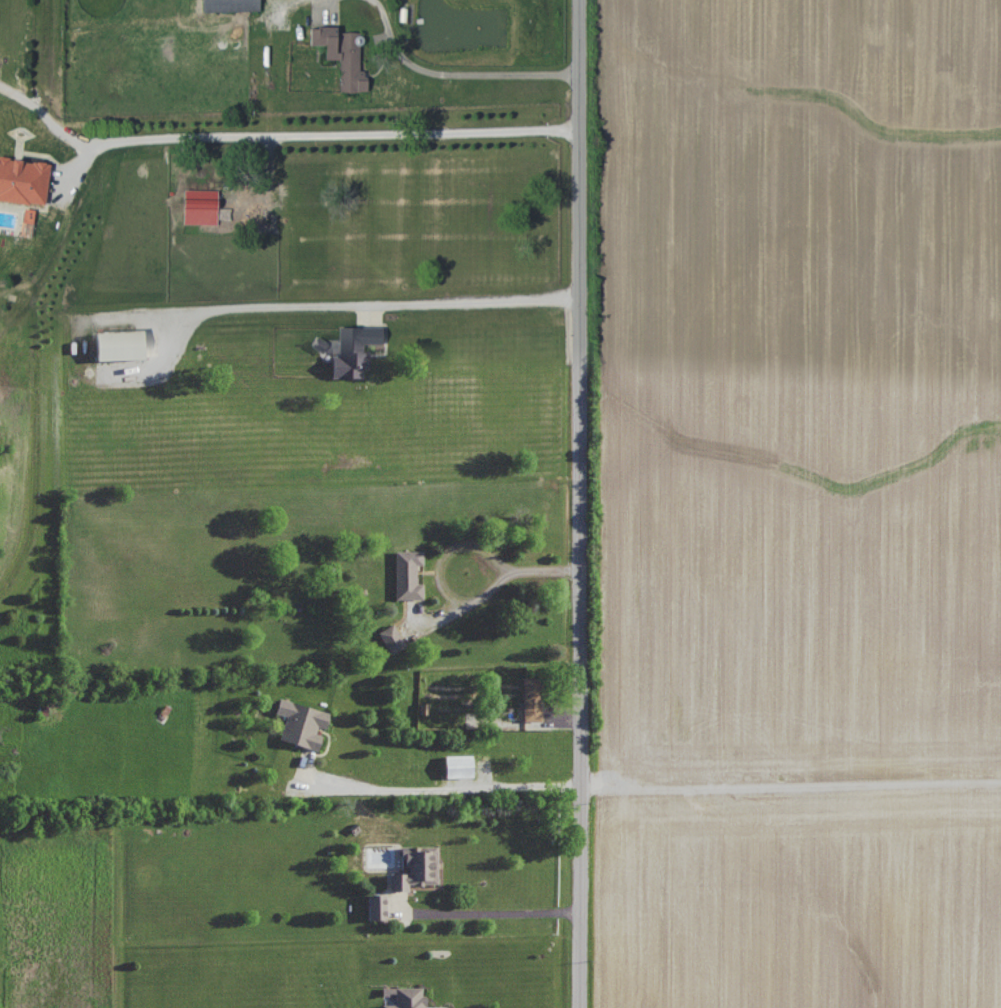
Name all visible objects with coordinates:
building: (230, 5)
building: (342, 56)
road: (454, 74)
road: (280, 135)
building: (23, 181)
building: (200, 207)
road: (370, 304)
building: (120, 344)
building: (354, 349)
road: (580, 503)
road: (455, 544)
building: (408, 573)
building: (392, 637)
building: (533, 697)
building: (304, 724)
building: (459, 764)
road: (450, 789)
road: (791, 797)
building: (416, 866)
building: (377, 905)
road: (492, 912)
building: (408, 997)

